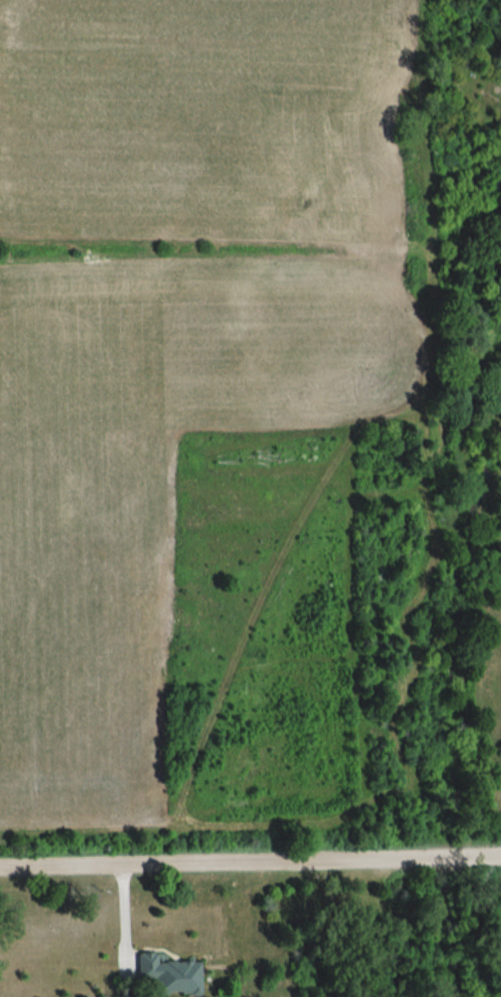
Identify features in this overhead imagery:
crop: (176, 329)
road: (250, 864)
building: (166, 976)

